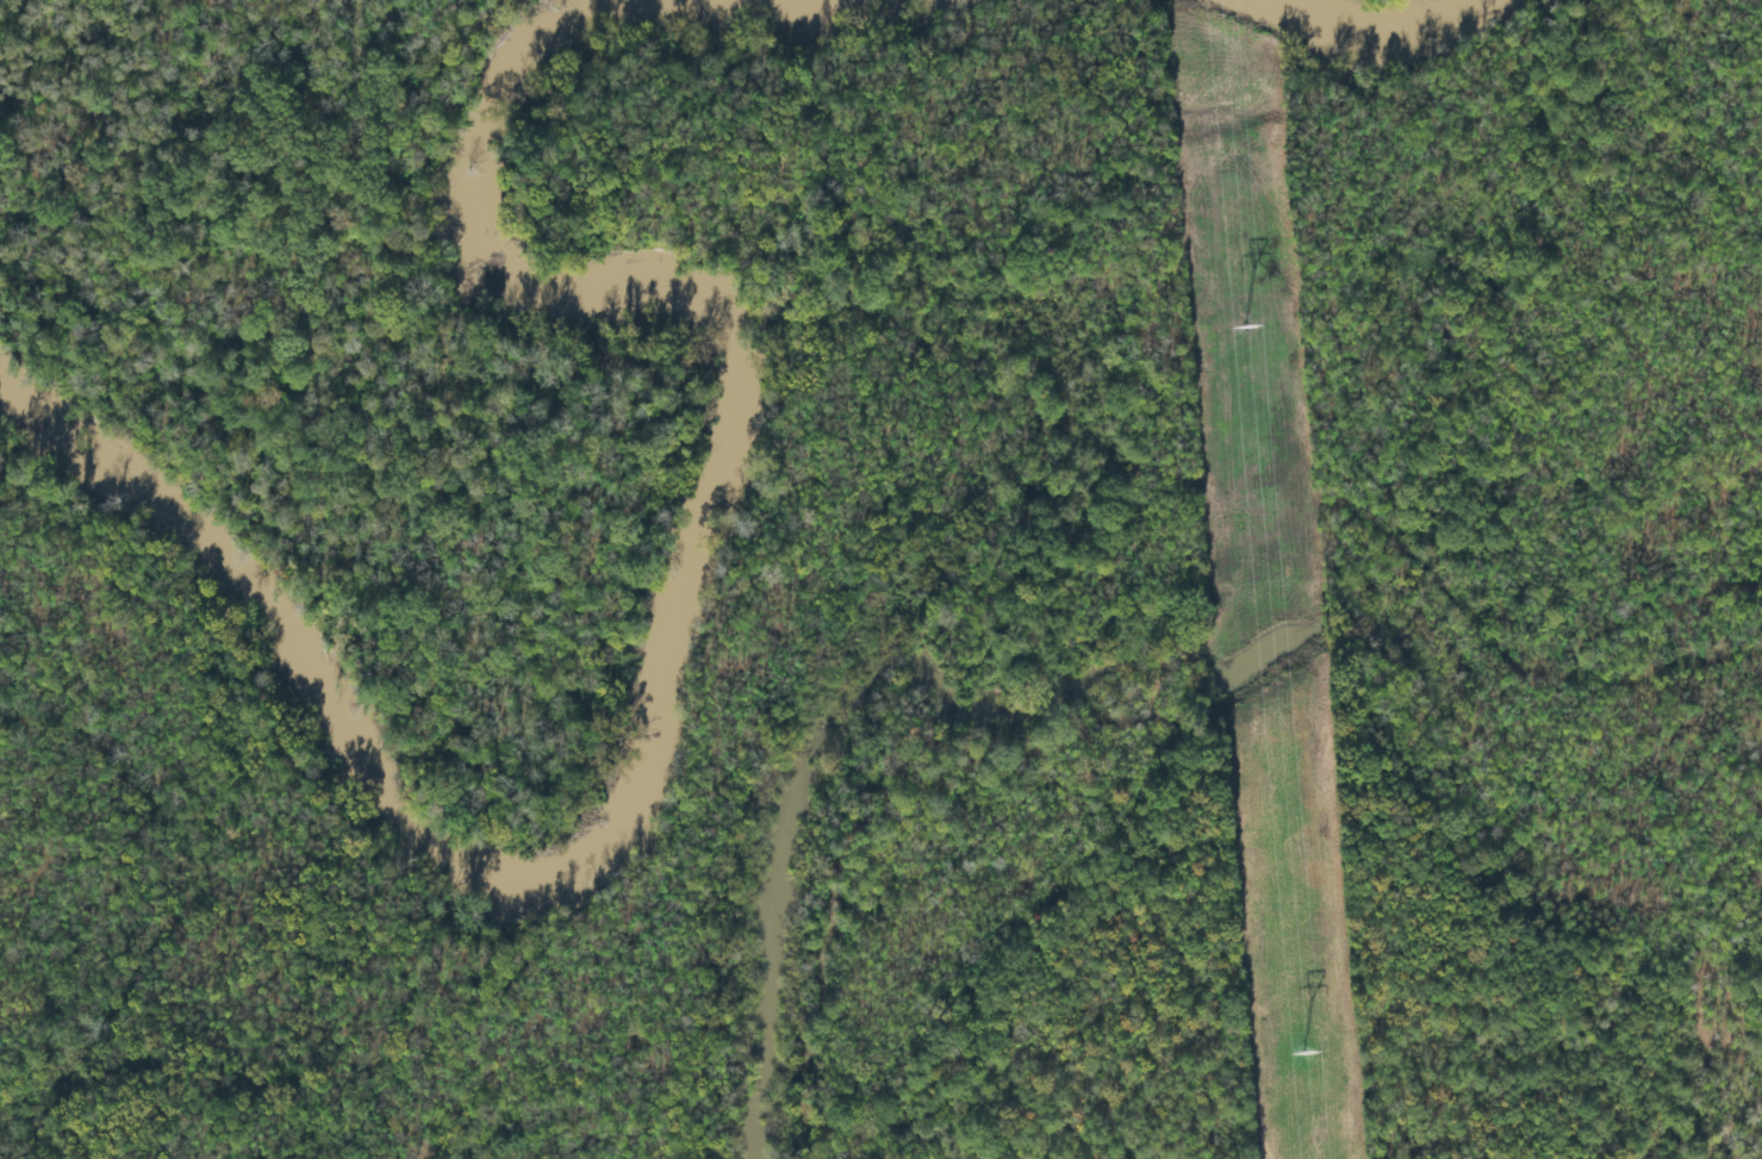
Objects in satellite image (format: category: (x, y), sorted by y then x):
river: (1365, 33)
power tower: (1243, 322)
river: (686, 600)
power tower: (1305, 1046)

